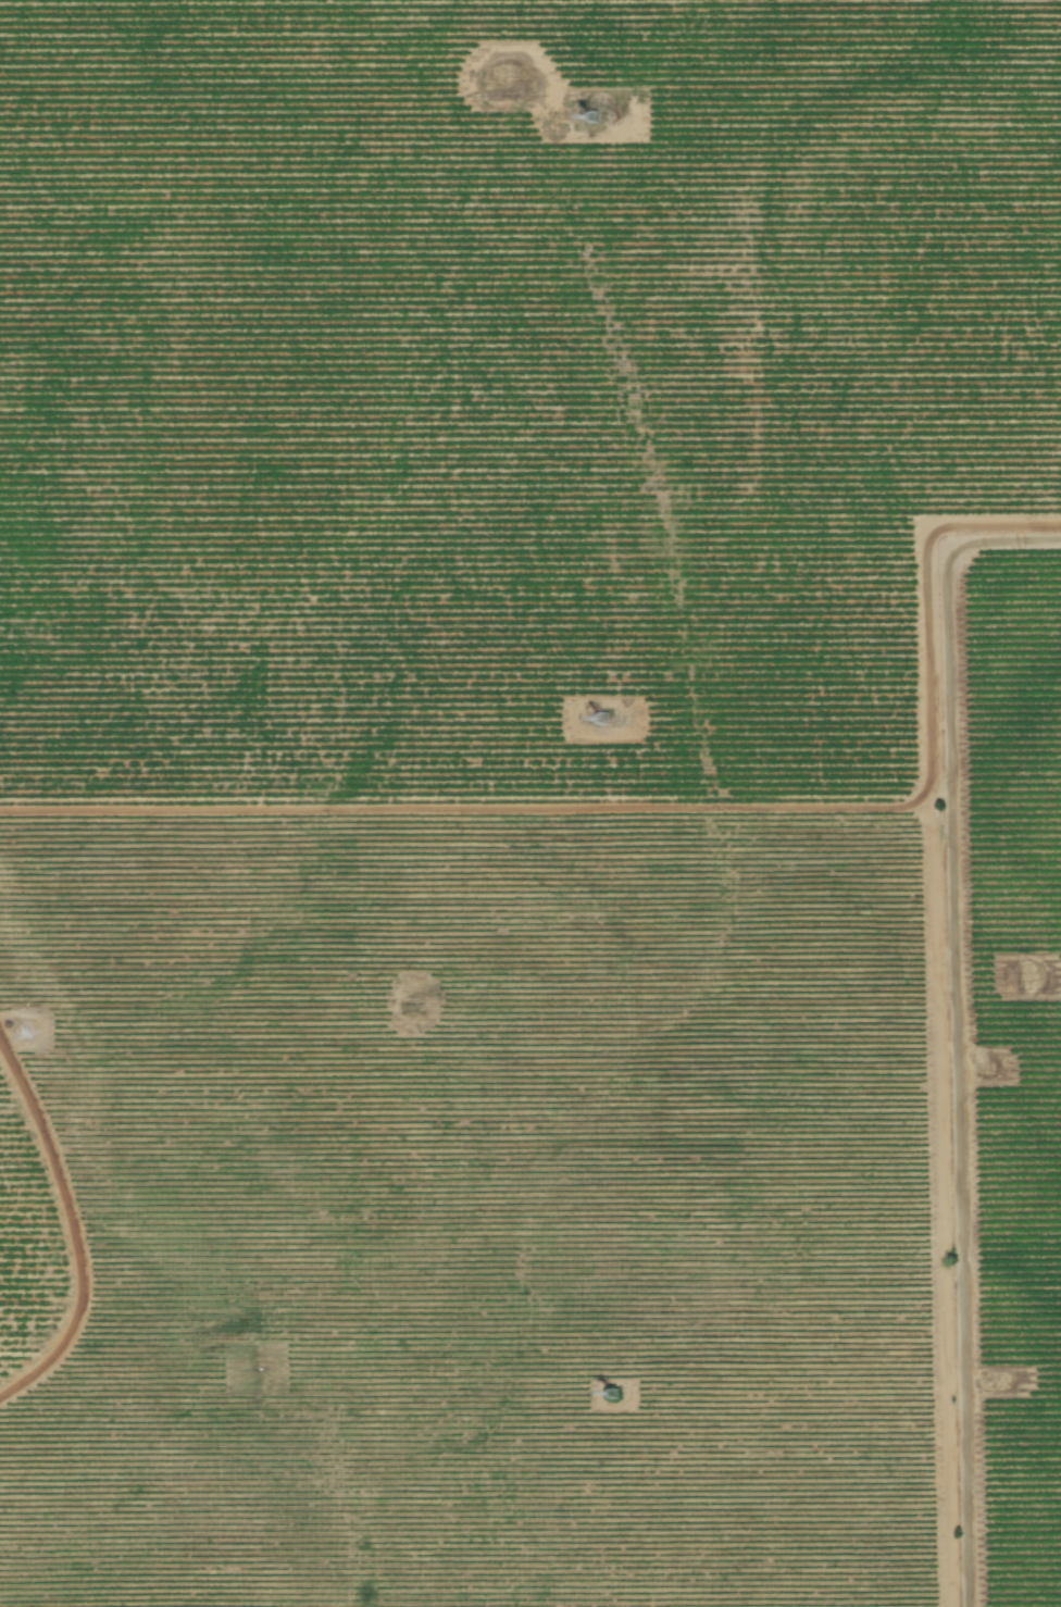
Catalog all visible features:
power tower: (597, 121)
crop: (926, 212)
power tower: (606, 718)
power tower: (615, 1394)

